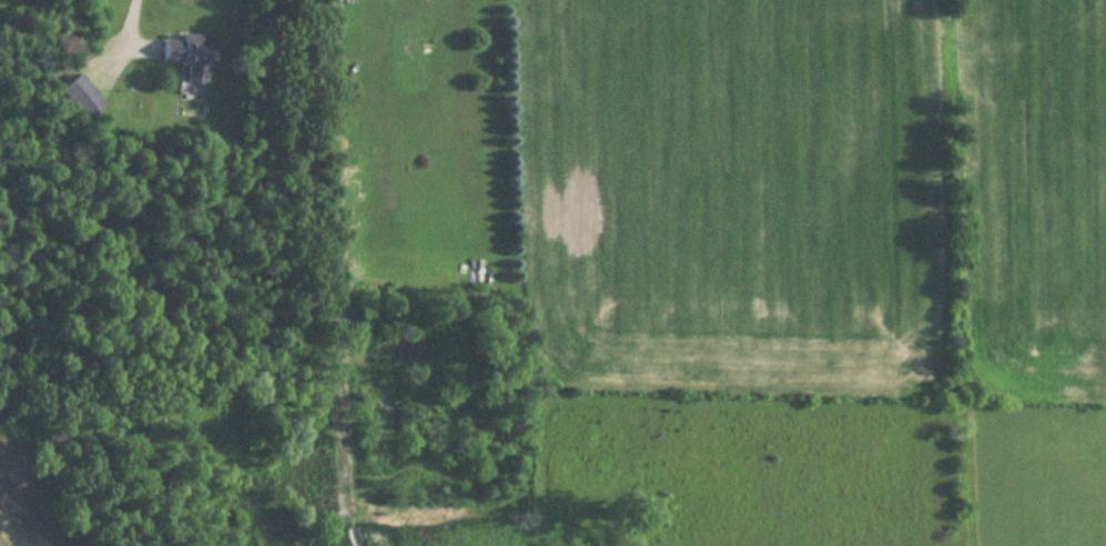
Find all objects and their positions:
road: (138, 11)
building: (193, 55)
building: (83, 98)

